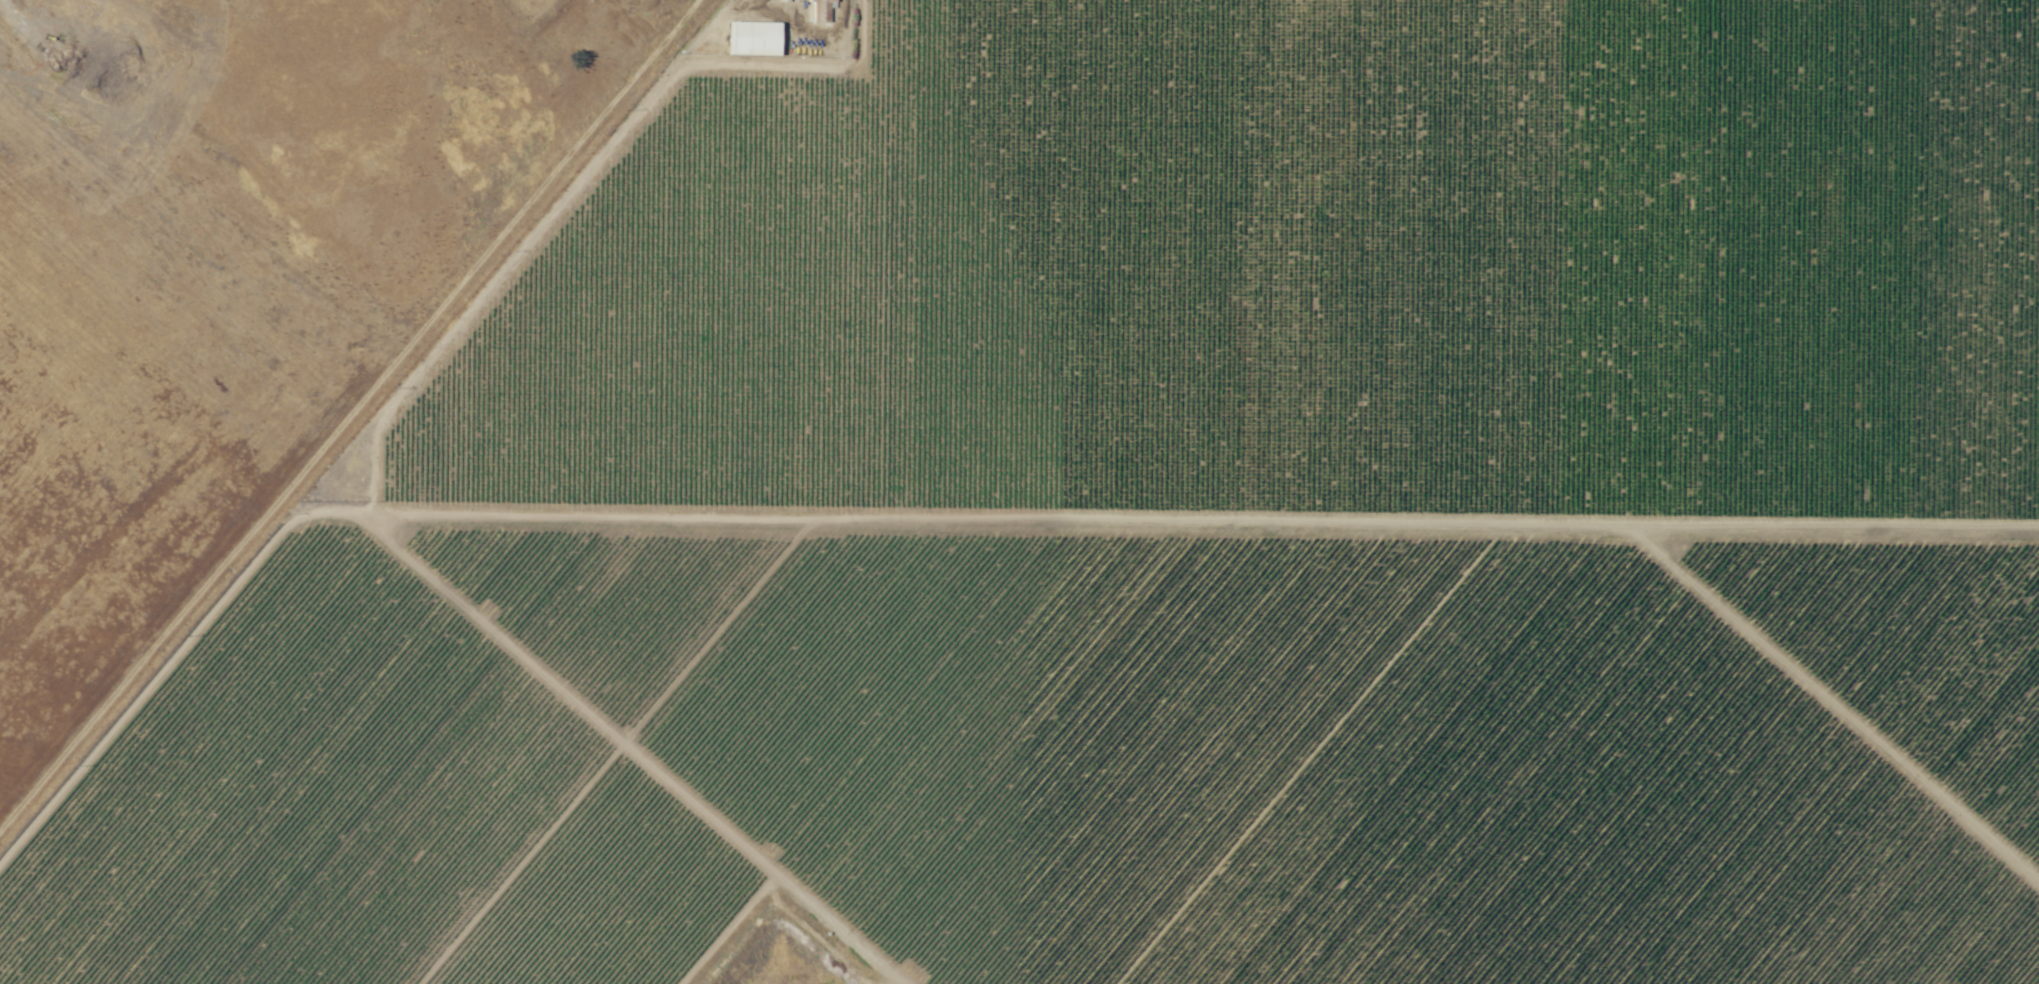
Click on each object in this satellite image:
building: (783, 1)
building: (822, 9)
building: (753, 38)
road: (408, 387)
road: (349, 412)
road: (590, 520)
road: (1123, 524)
crop: (1163, 529)
building: (442, 631)
building: (1700, 638)
road: (1835, 701)
road: (635, 752)
road: (1313, 755)
building: (1933, 843)
building: (1875, 927)
wastewater plant: (786, 978)
building: (1881, 979)

